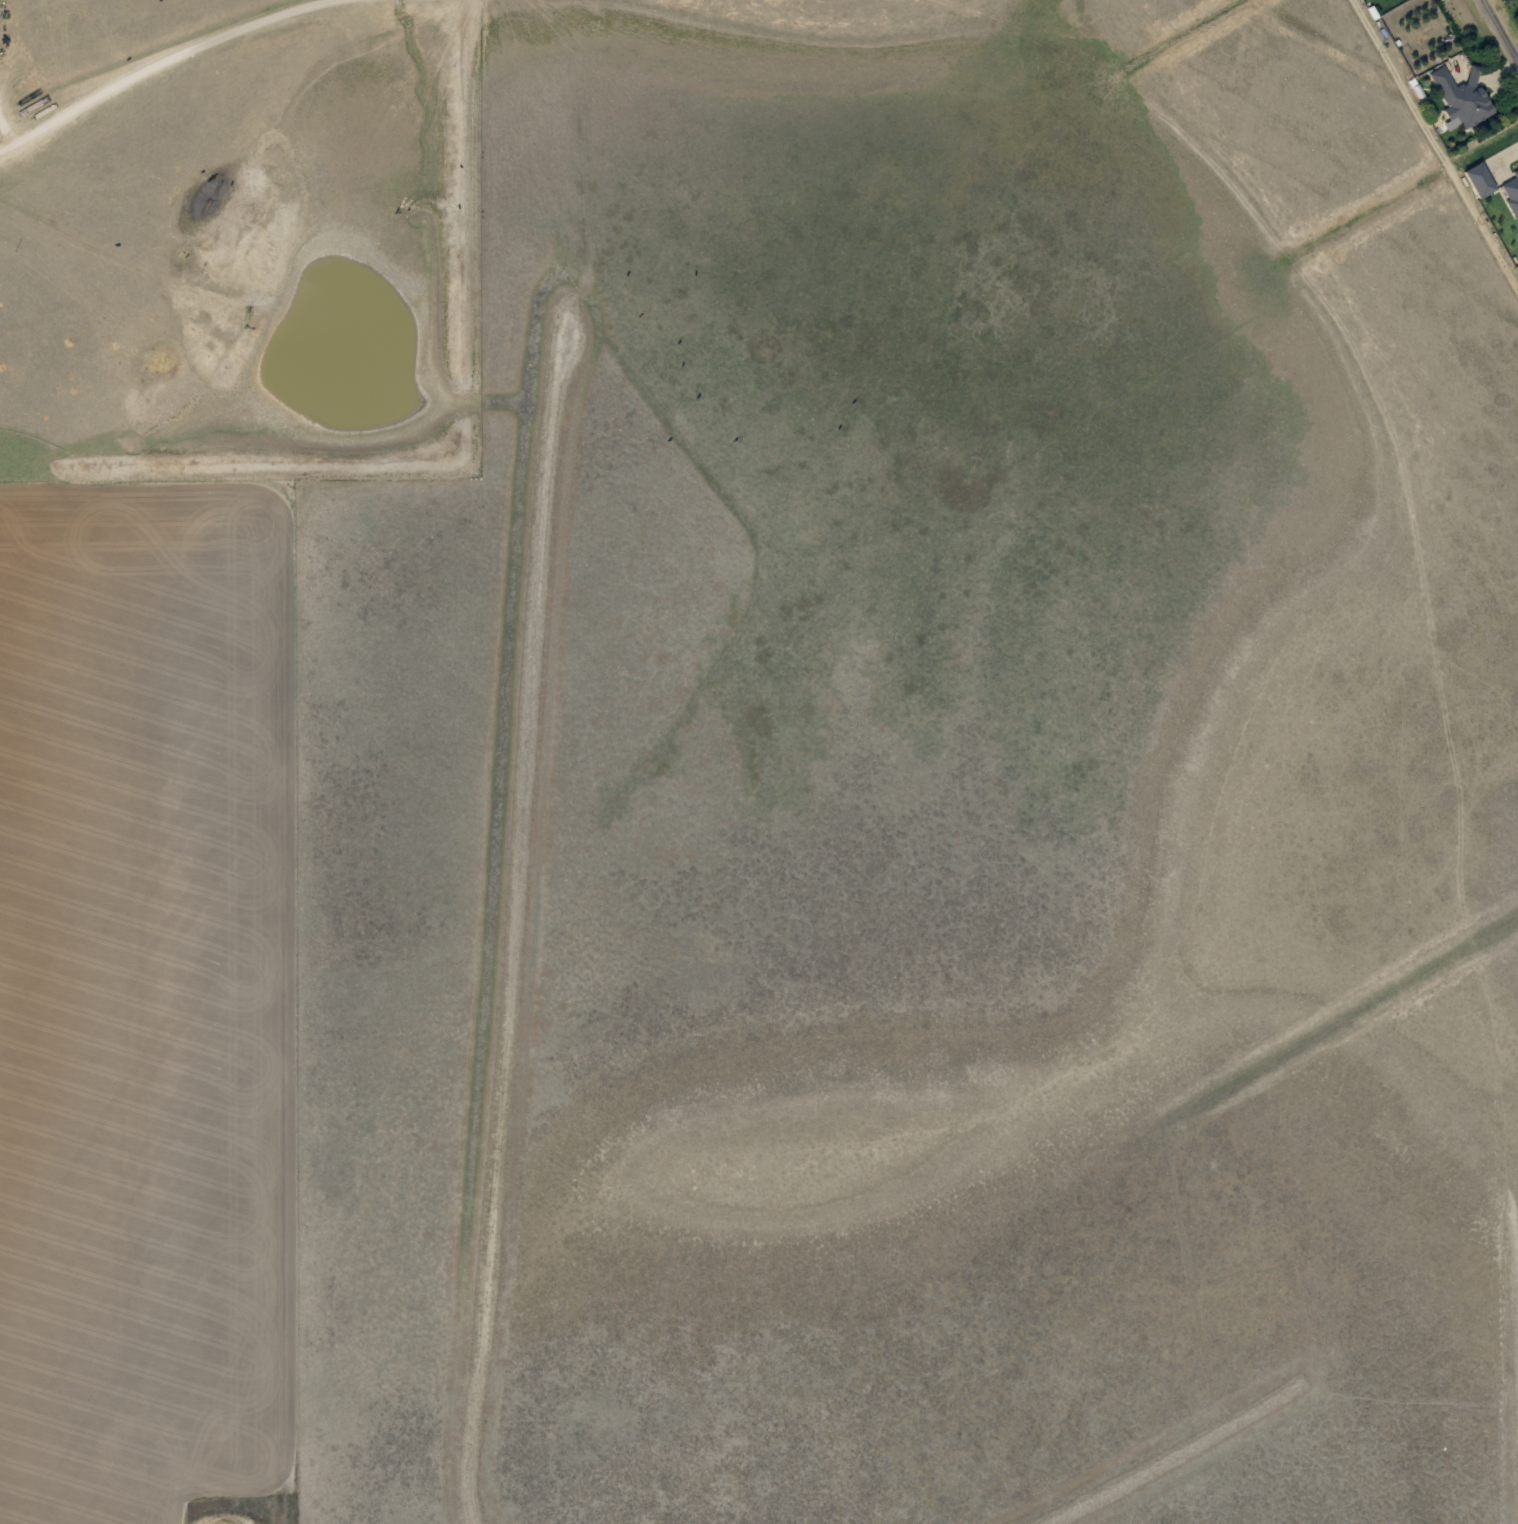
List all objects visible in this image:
road: (1499, 31)
building: (1462, 99)
road: (1437, 142)
building: (1480, 180)
building: (1512, 191)

